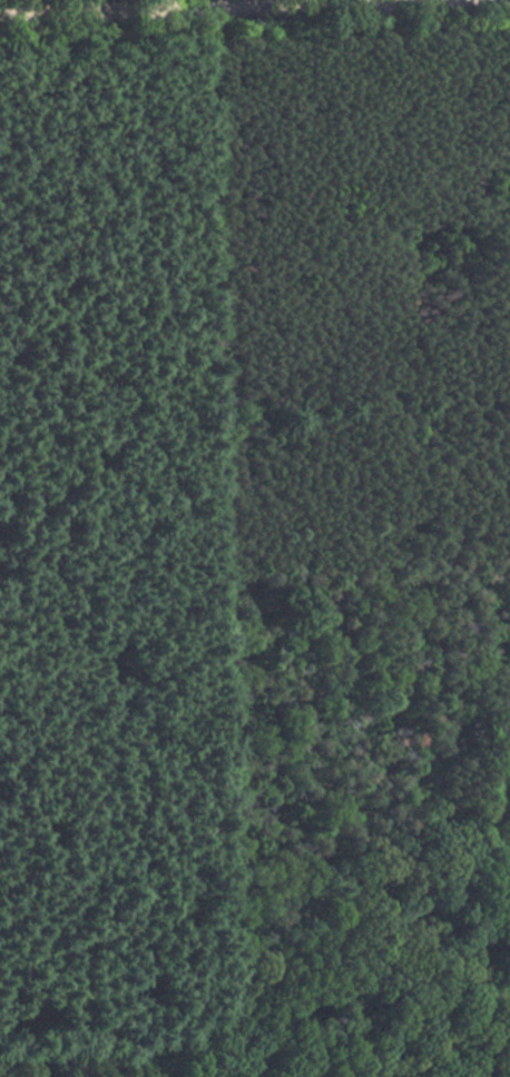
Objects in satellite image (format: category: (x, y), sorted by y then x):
road: (171, 3)
road: (180, 7)
road: (254, 177)
road: (295, 984)
road: (69, 1065)

